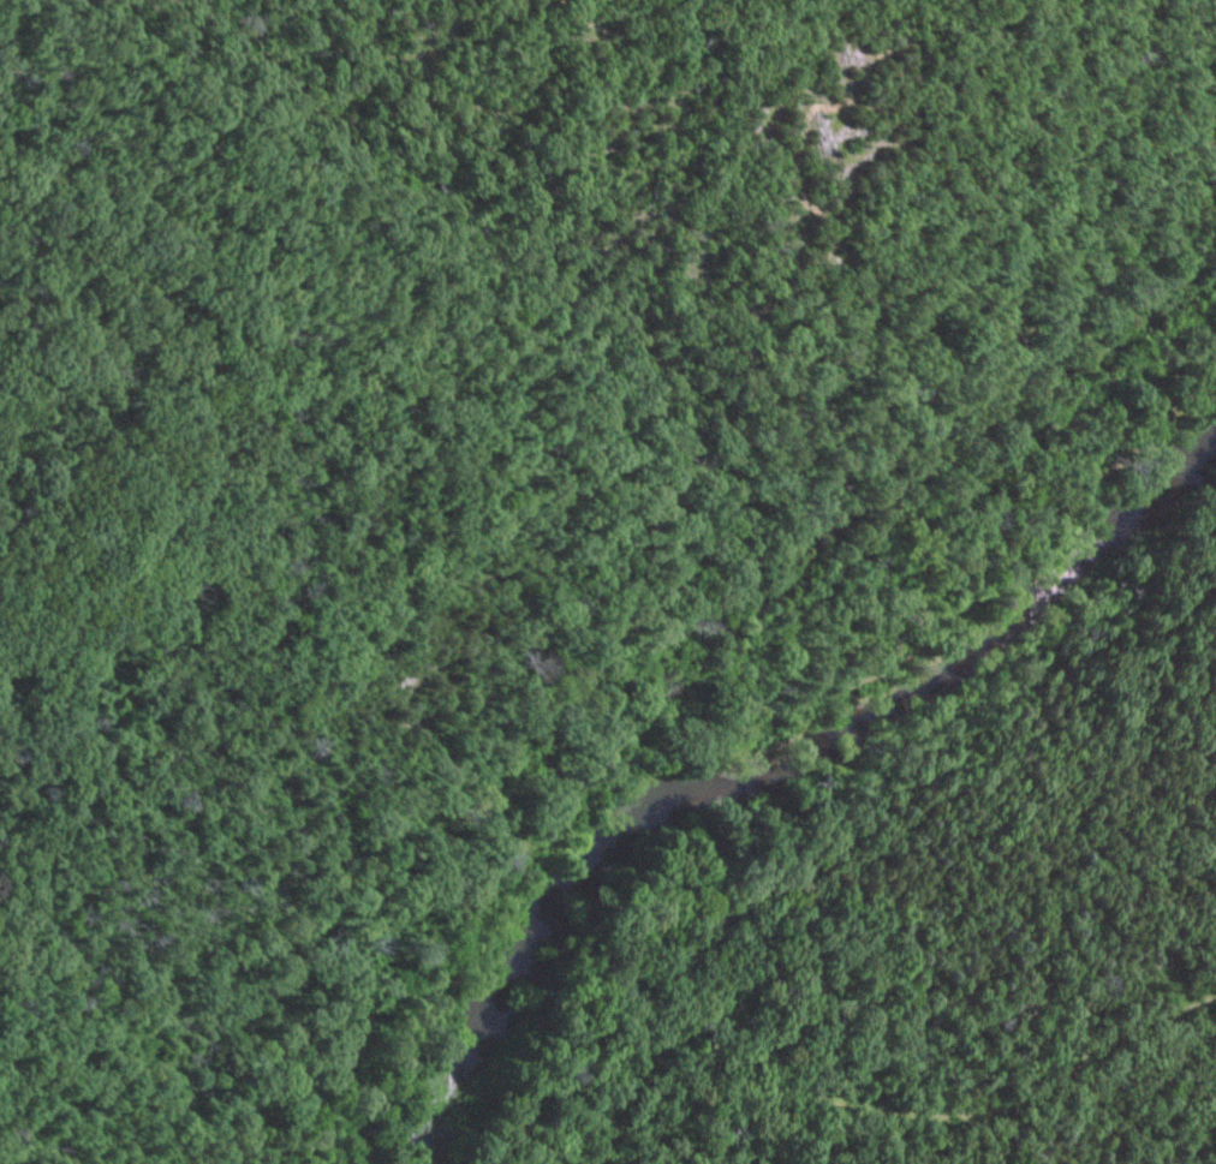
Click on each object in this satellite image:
river: (765, 763)

